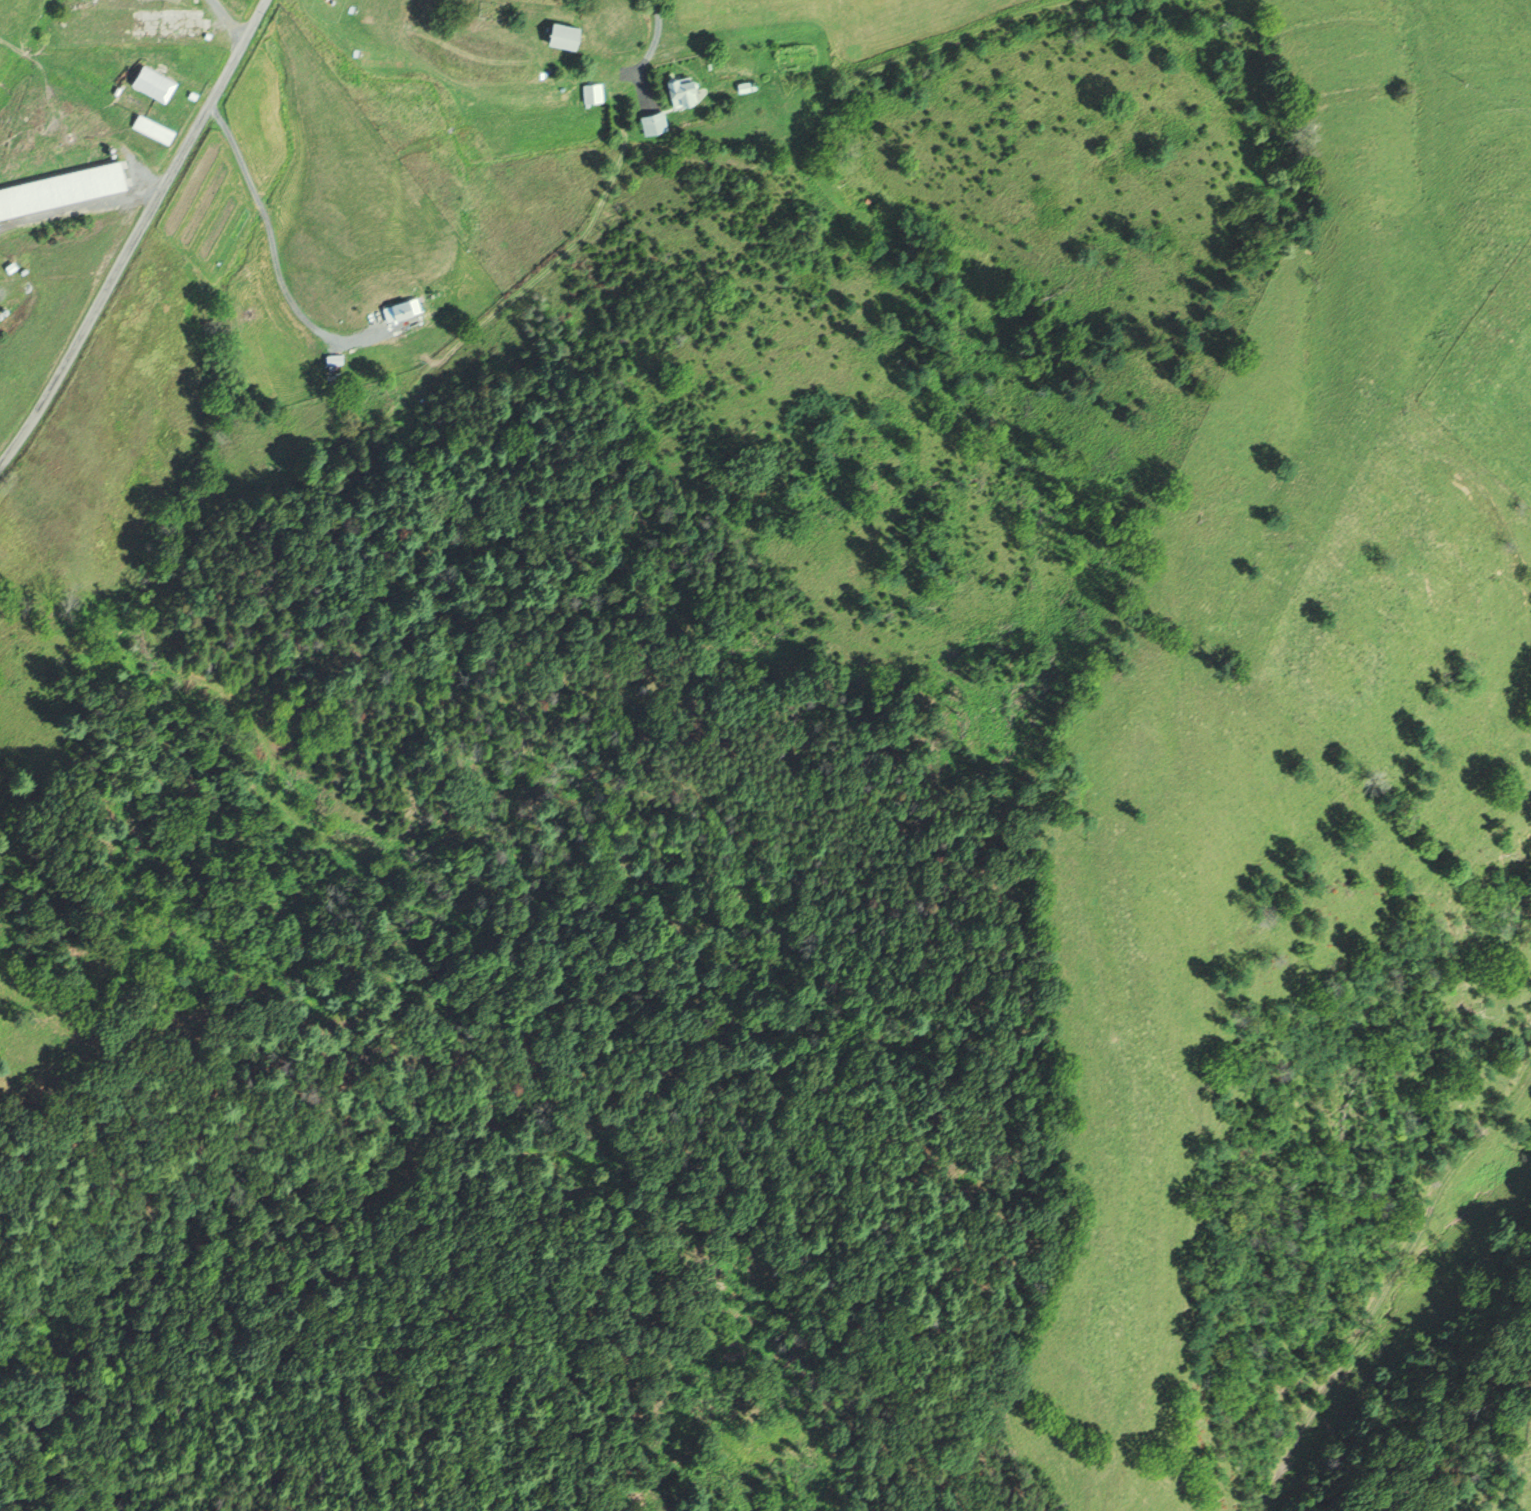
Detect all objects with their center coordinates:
building: (566, 35)
road: (647, 50)
building: (153, 83)
building: (742, 87)
building: (681, 91)
building: (590, 93)
building: (652, 123)
building: (153, 128)
building: (60, 187)
road: (77, 209)
road: (135, 234)

